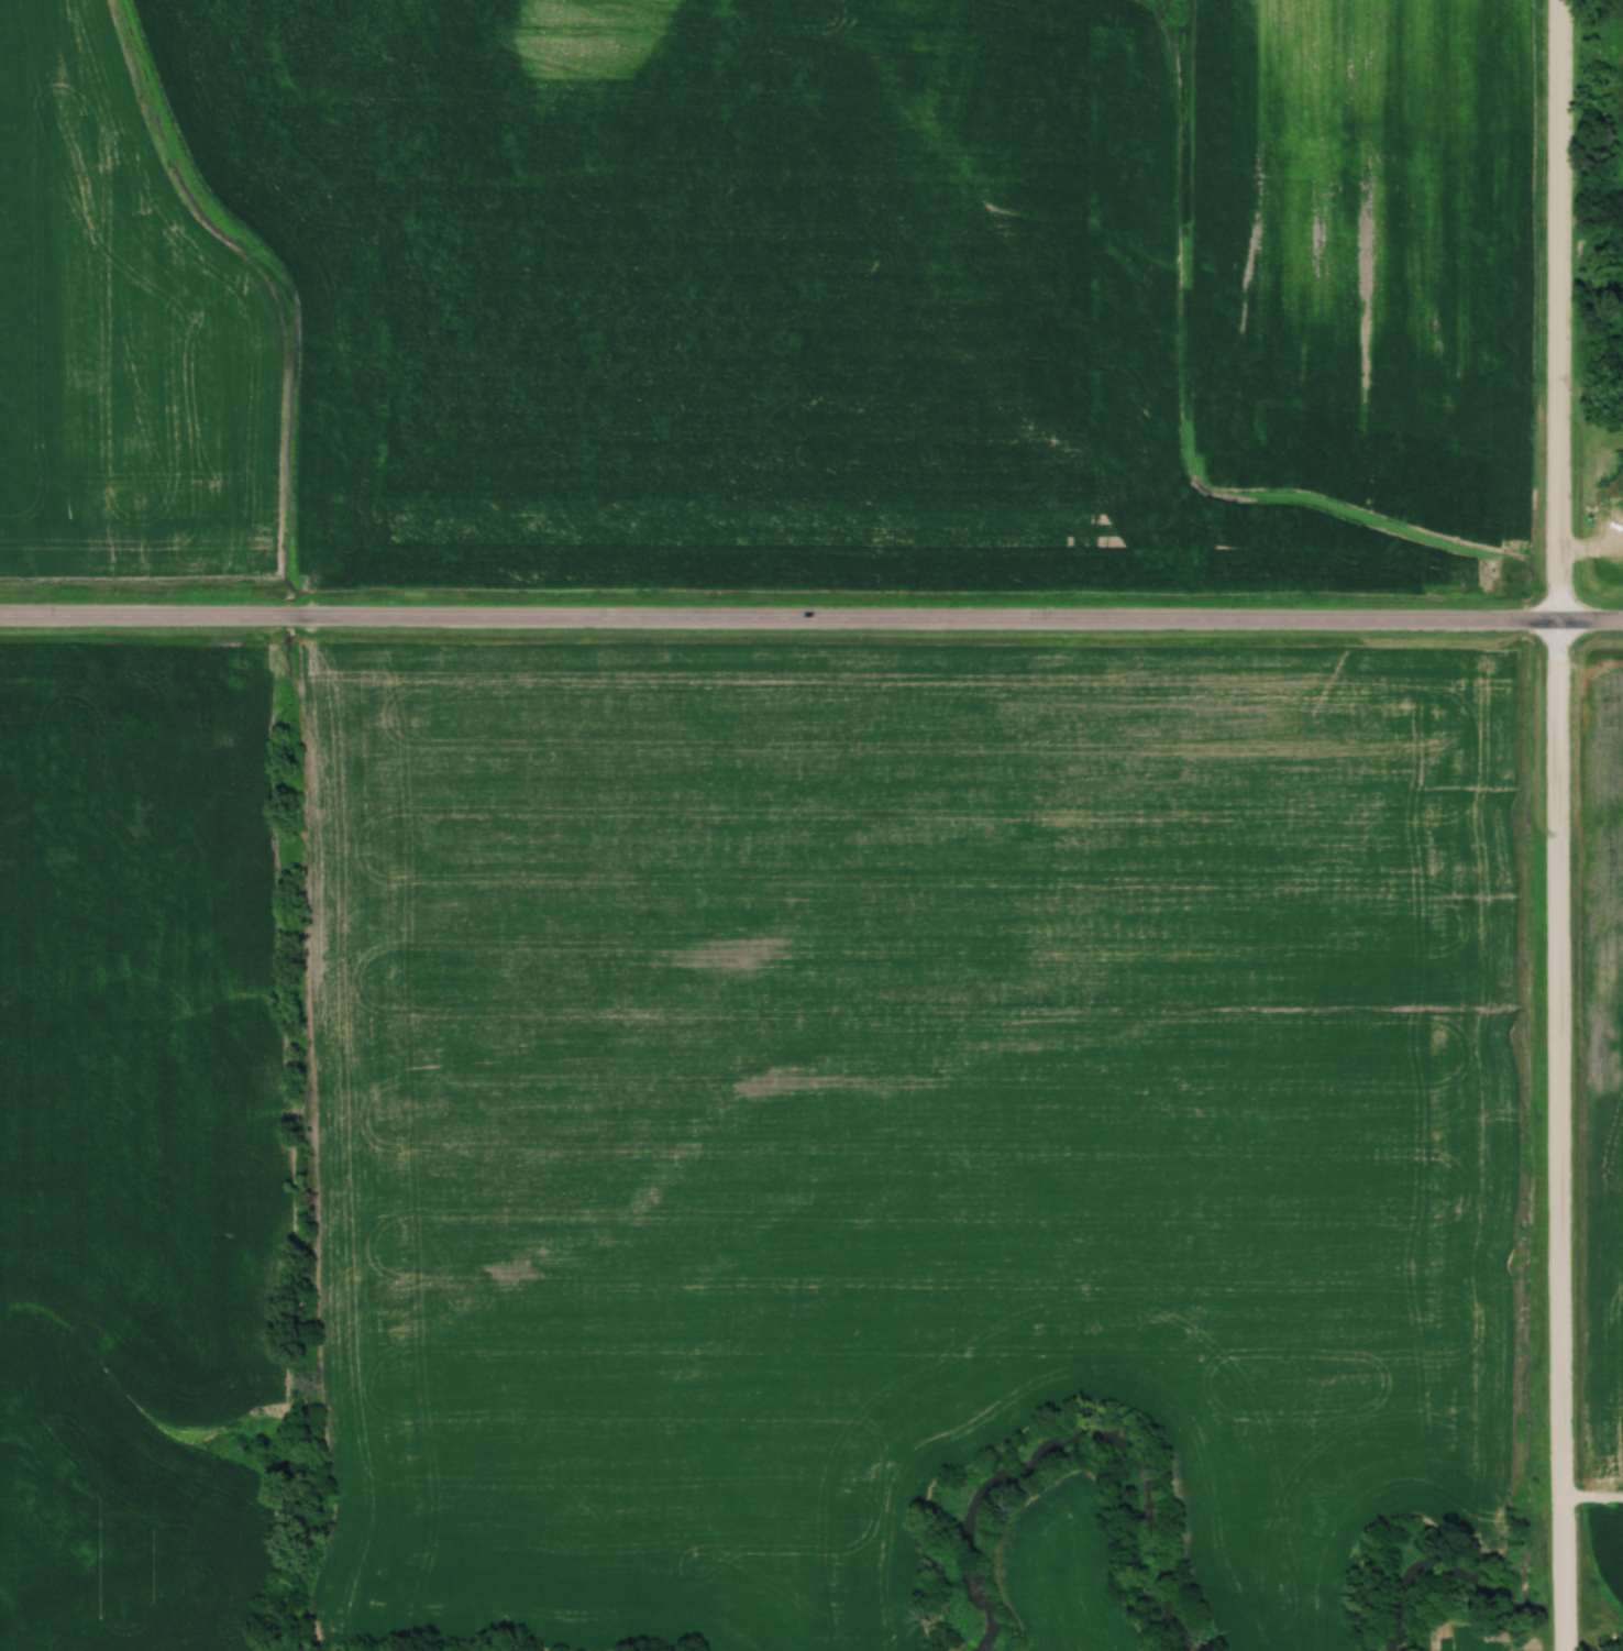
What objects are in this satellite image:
road: (810, 616)
road: (1557, 825)
river: (1077, 1450)
road: (1590, 1498)
river: (1431, 1573)
river: (1557, 1628)
river: (1597, 1650)

